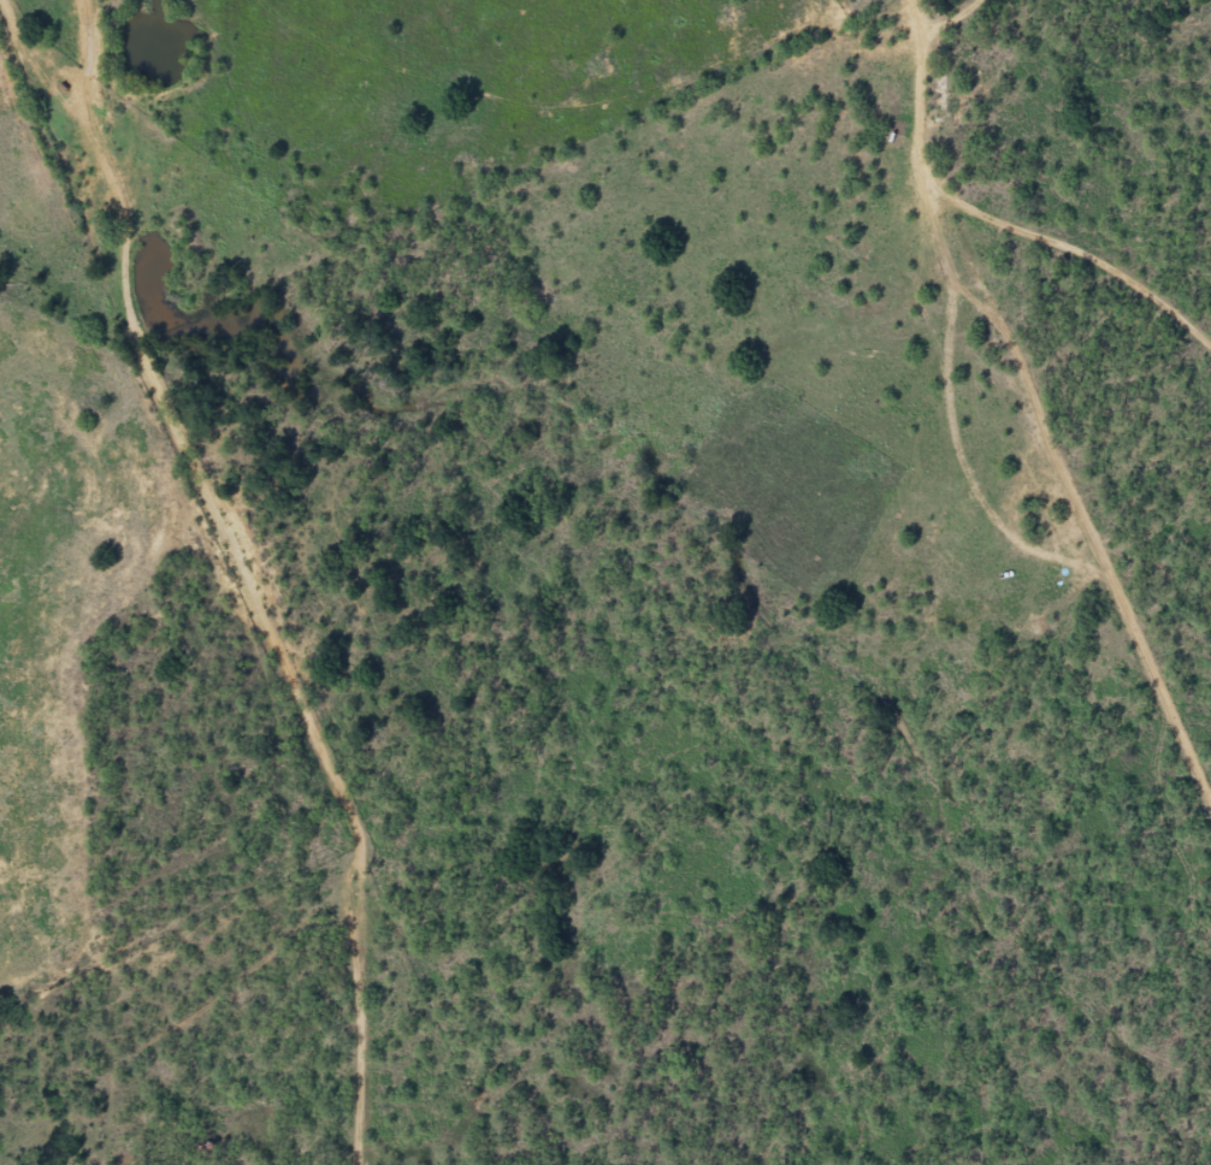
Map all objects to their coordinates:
road: (1074, 175)
road: (289, 580)

